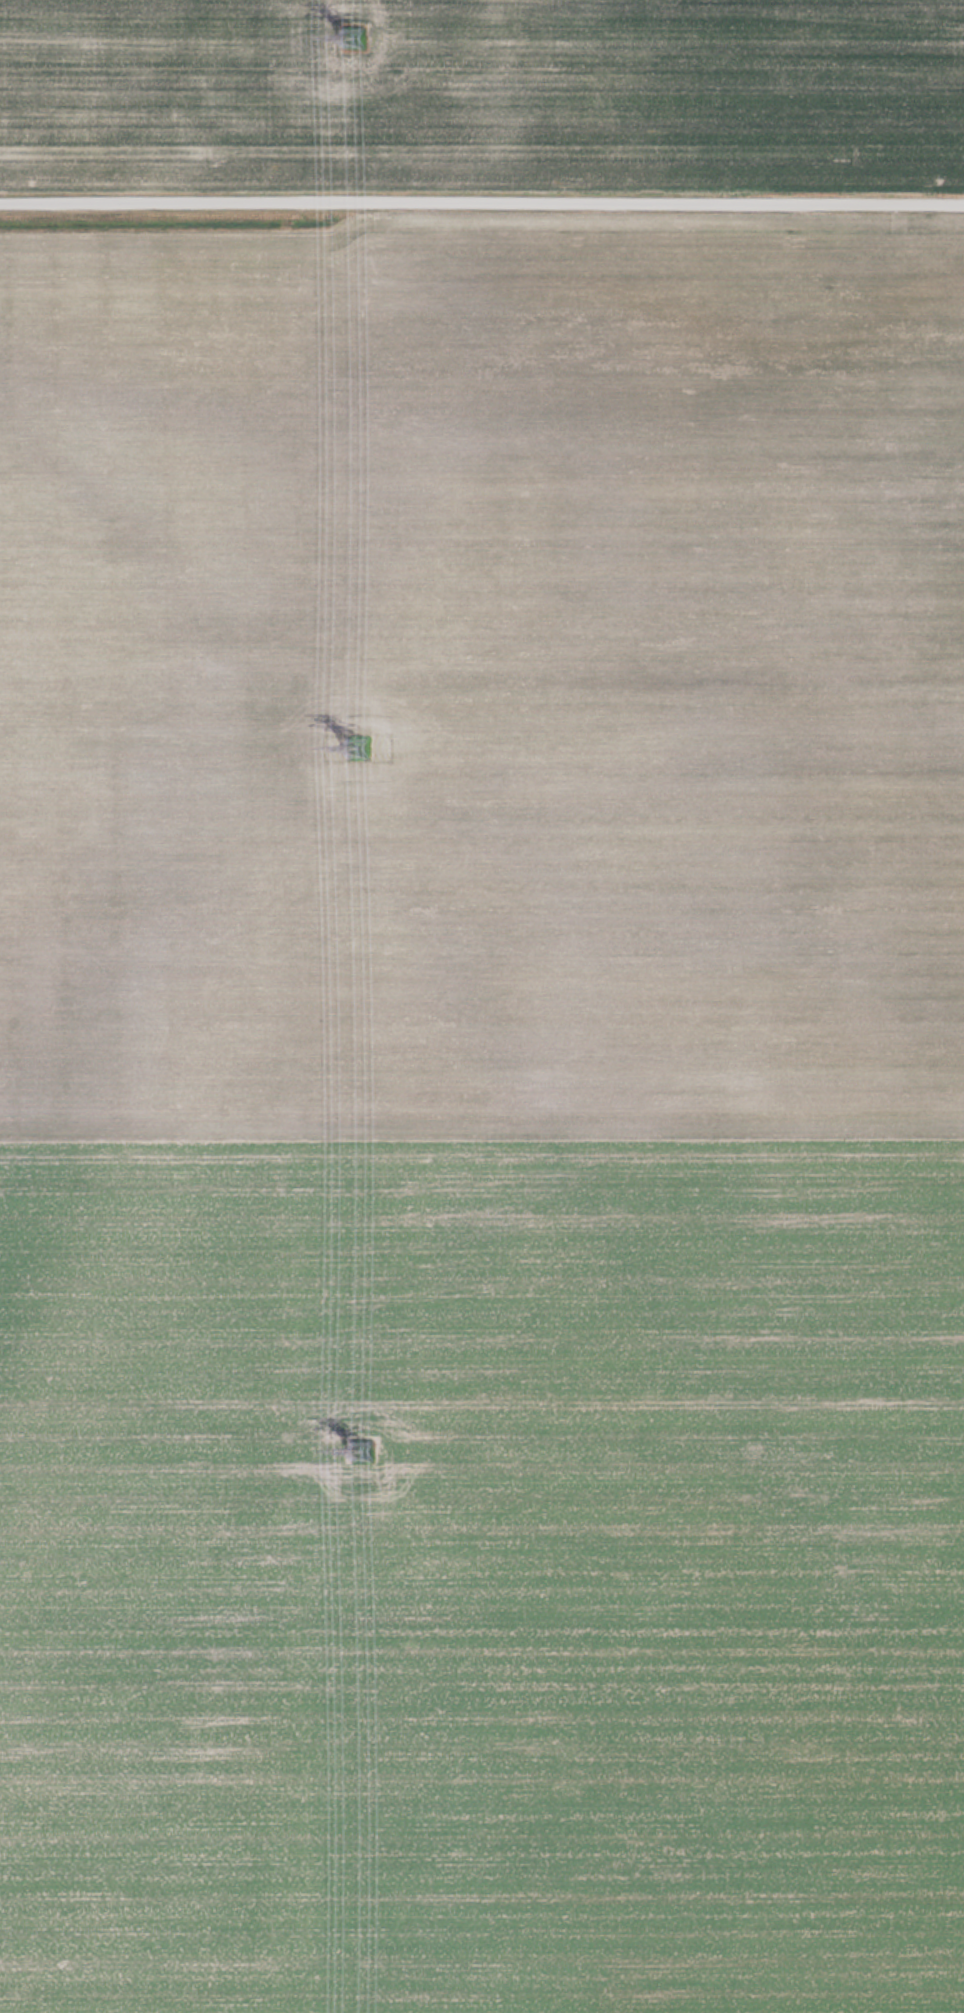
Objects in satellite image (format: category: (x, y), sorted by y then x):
power tower: (354, 34)
road: (482, 205)
power tower: (361, 746)
power tower: (359, 1451)

